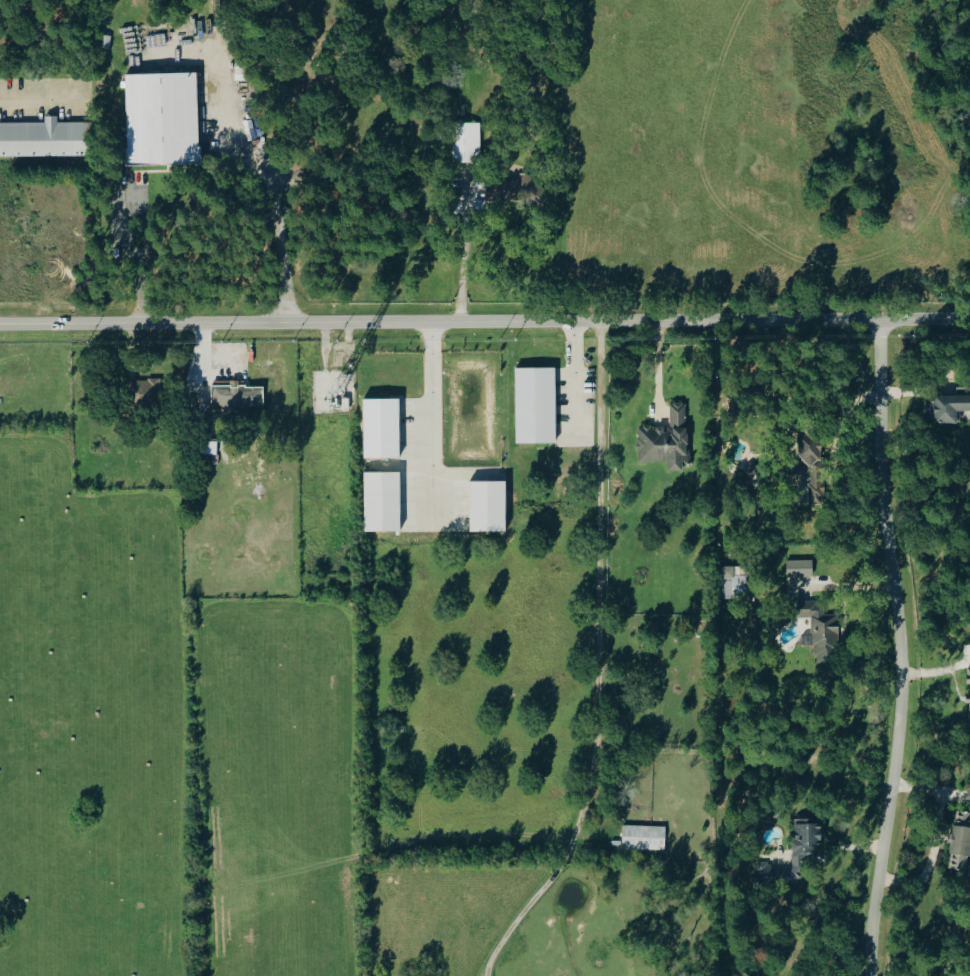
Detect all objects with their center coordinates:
road: (38, 98)
building: (162, 118)
building: (44, 138)
building: (522, 188)
road: (279, 207)
road: (121, 214)
road: (464, 252)
road: (484, 320)
road: (196, 357)
road: (656, 369)
road: (566, 377)
building: (146, 392)
building: (238, 395)
building: (536, 405)
building: (950, 408)
road: (425, 423)
building: (382, 428)
building: (667, 440)
road: (833, 452)
building: (813, 463)
building: (488, 506)
building: (800, 568)
building: (735, 581)
building: (820, 631)
road: (901, 648)
road: (601, 662)
building: (969, 693)
crop: (166, 748)
building: (644, 837)
building: (961, 842)
building: (805, 847)
building: (765, 871)

